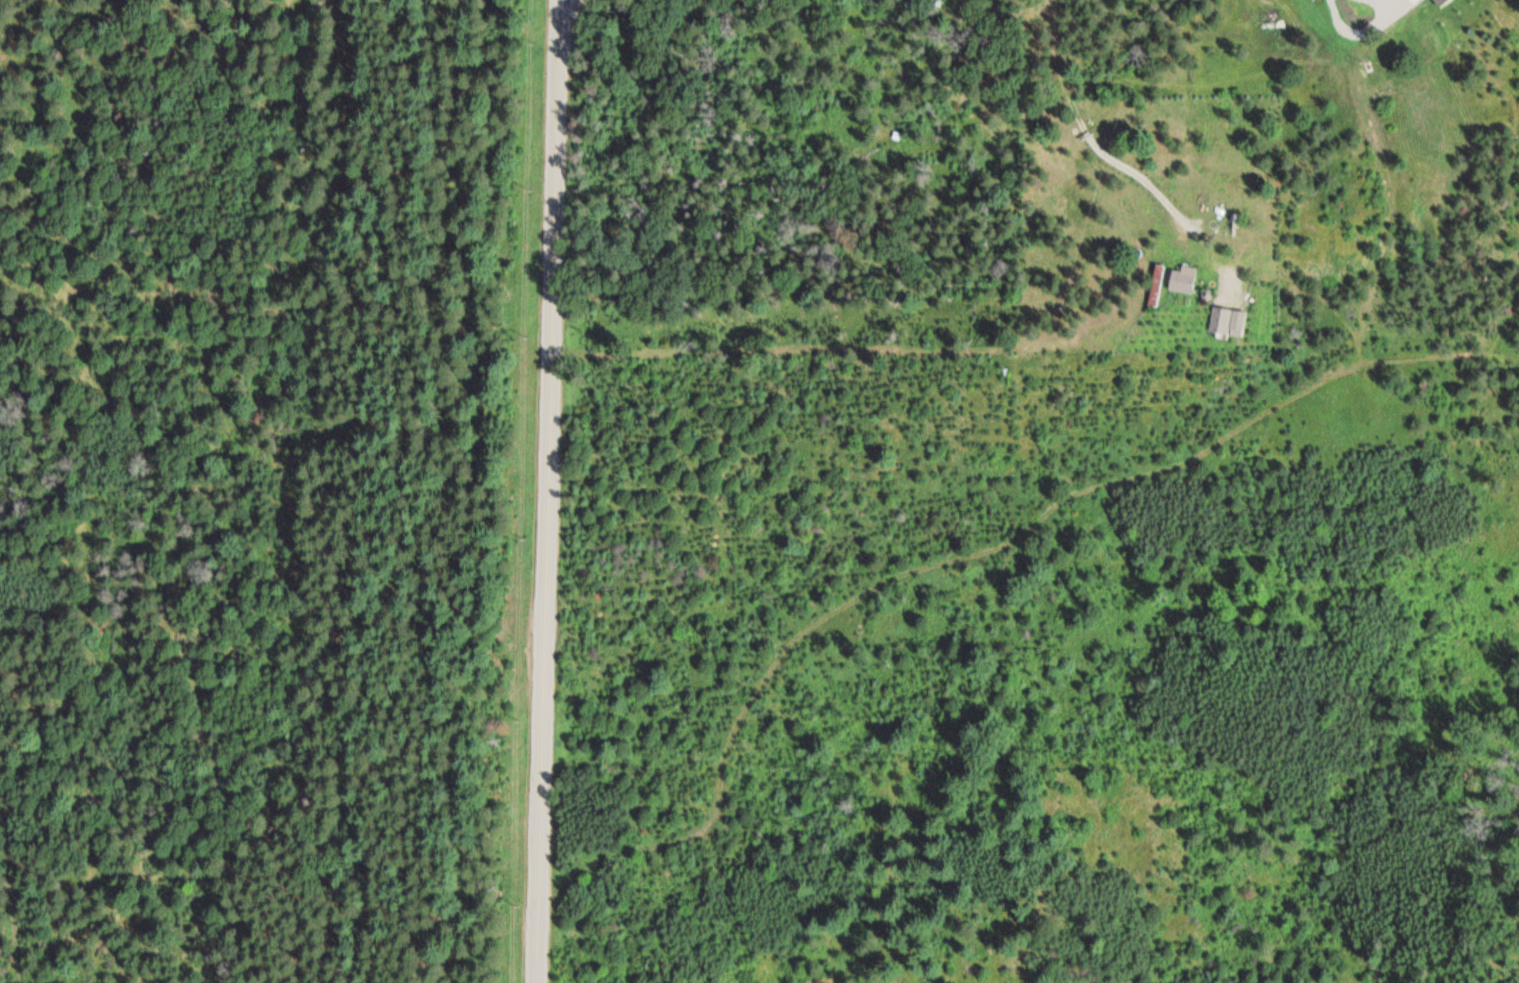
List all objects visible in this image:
building: (1440, 2)
road: (1375, 4)
road: (564, 10)
road: (1111, 161)
building: (1183, 280)
building: (1155, 285)
building: (1225, 323)
road: (547, 491)

